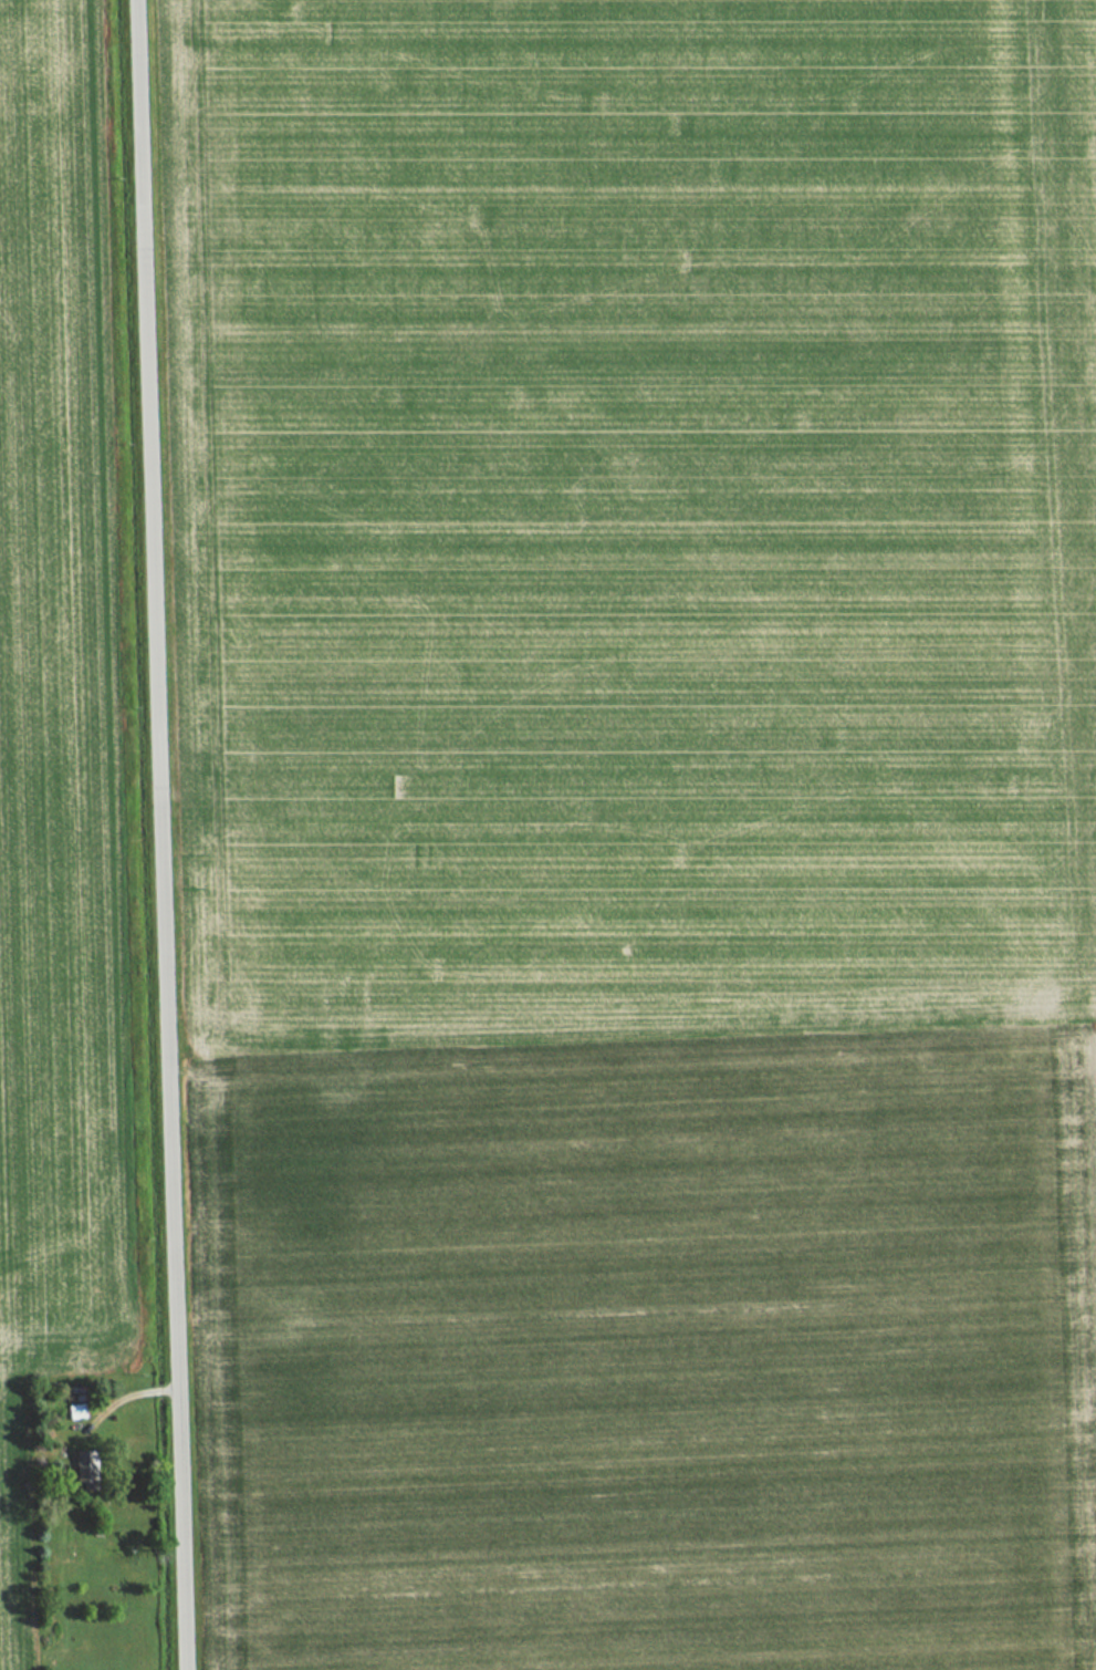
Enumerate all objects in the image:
crop: (1090, 228)
crop: (59, 764)
crop: (644, 832)
road: (160, 834)
building: (86, 1471)

